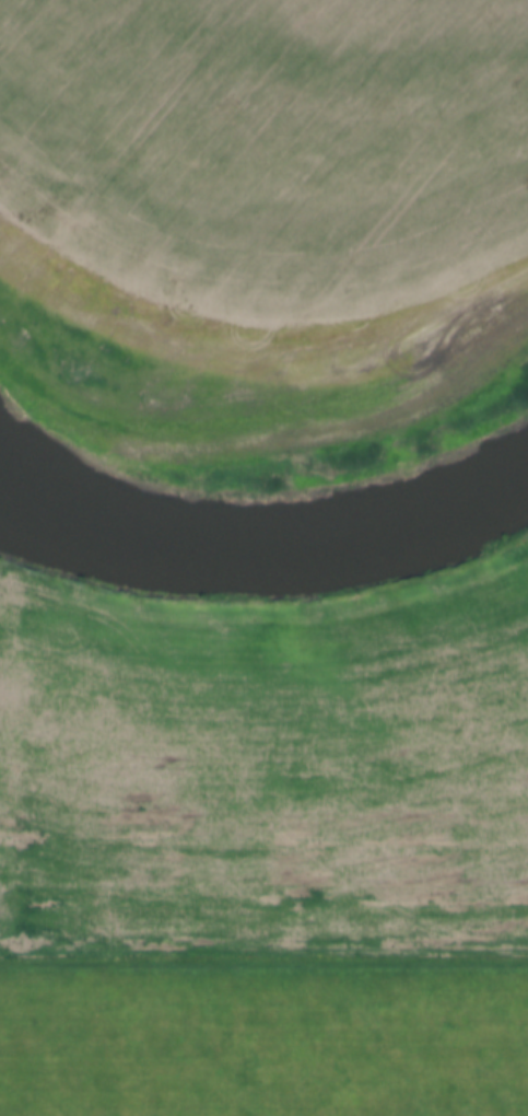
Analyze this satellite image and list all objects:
river: (261, 554)

